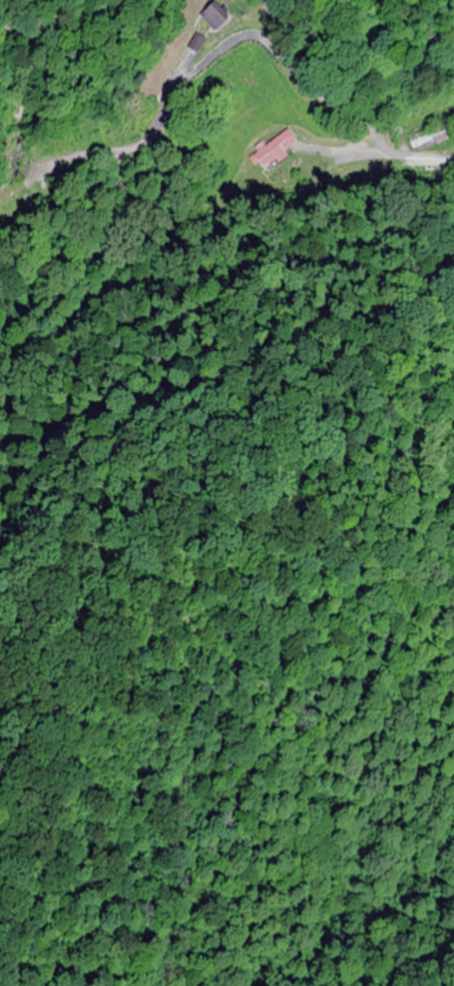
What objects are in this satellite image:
building: (211, 17)
building: (428, 141)
building: (271, 152)
road: (399, 154)
road: (391, 198)
road: (288, 220)

